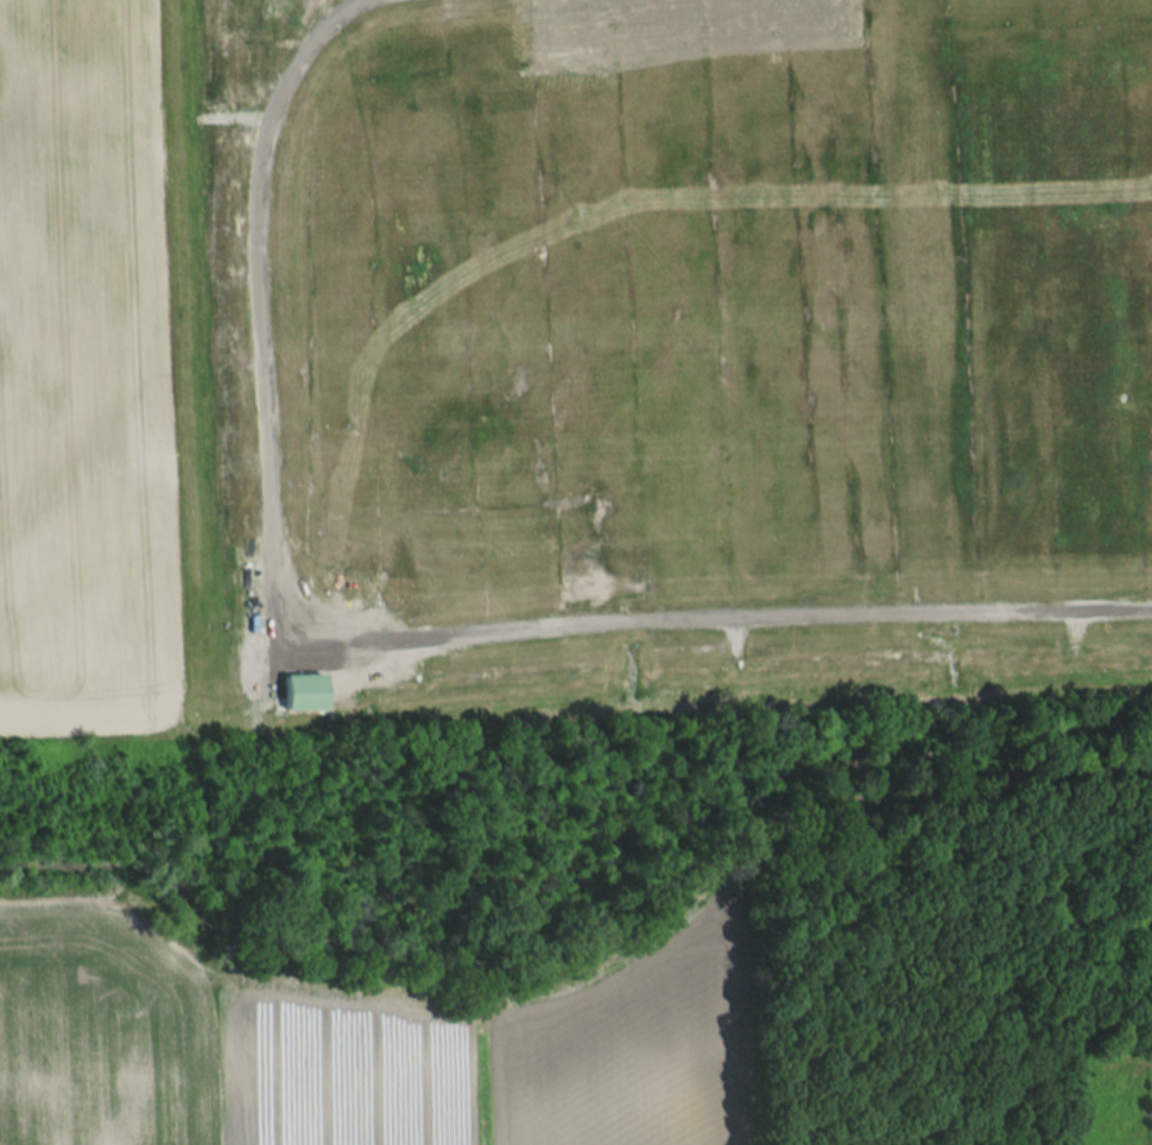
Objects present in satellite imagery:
crop: (83, 374)
road: (388, 643)
building: (304, 692)
crop: (354, 1048)

